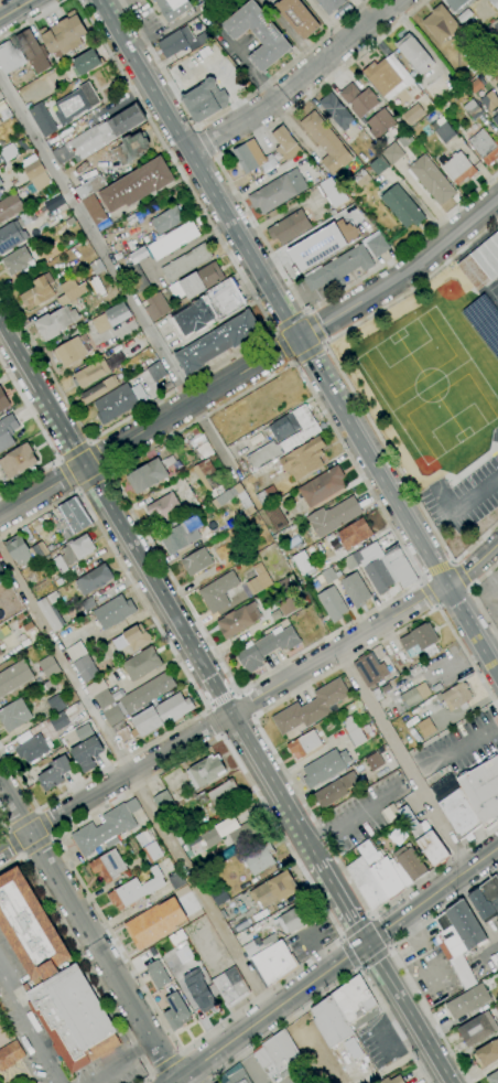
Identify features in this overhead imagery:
building: (494, 2)
building: (331, 4)
building: (208, 6)
building: (457, 7)
road: (13, 8)
building: (173, 8)
building: (297, 17)
road: (31, 19)
building: (440, 23)
building: (492, 30)
building: (64, 34)
building: (258, 34)
building: (203, 36)
building: (463, 39)
building: (176, 42)
building: (33, 51)
building: (204, 53)
building: (414, 53)
building: (10, 57)
building: (86, 62)
building: (390, 78)
road: (296, 82)
building: (476, 85)
building: (205, 100)
building: (359, 100)
building: (76, 103)
building: (489, 103)
road: (224, 109)
building: (473, 109)
building: (336, 110)
building: (4, 111)
building: (413, 112)
building: (495, 118)
building: (43, 120)
building: (126, 120)
building: (380, 122)
building: (443, 130)
building: (405, 139)
building: (88, 141)
road: (206, 142)
building: (326, 142)
building: (285, 143)
building: (484, 146)
building: (131, 148)
building: (8, 151)
building: (392, 153)
building: (249, 157)
building: (441, 158)
building: (379, 165)
building: (459, 168)
building: (33, 169)
building: (431, 179)
building: (1, 182)
building: (137, 184)
building: (89, 185)
building: (0, 187)
building: (0, 190)
building: (278, 191)
building: (333, 192)
building: (54, 203)
building: (10, 206)
building: (402, 206)
building: (95, 208)
building: (31, 216)
building: (167, 219)
road: (253, 224)
building: (290, 227)
building: (12, 235)
building: (174, 240)
building: (322, 244)
building: (377, 246)
road: (230, 257)
building: (18, 260)
building: (186, 262)
building: (481, 262)
building: (97, 267)
building: (338, 269)
road: (119, 276)
building: (136, 278)
building: (198, 281)
building: (74, 289)
building: (39, 291)
building: (156, 307)
building: (208, 309)
building: (111, 318)
road: (289, 321)
building: (56, 322)
road: (314, 328)
road: (296, 334)
building: (218, 342)
road: (282, 347)
building: (73, 351)
road: (308, 354)
road: (253, 364)
road: (45, 365)
building: (156, 371)
building: (91, 373)
park: (434, 376)
road: (348, 386)
building: (98, 389)
building: (3, 400)
building: (119, 401)
road: (29, 411)
building: (195, 430)
building: (7, 431)
building: (285, 436)
building: (197, 440)
road: (88, 443)
road: (90, 443)
building: (206, 450)
road: (75, 451)
road: (99, 459)
building: (304, 459)
building: (18, 460)
road: (61, 460)
road: (58, 462)
traffic signals: (87, 465)
road: (108, 472)
road: (67, 475)
road: (107, 475)
building: (148, 475)
building: (210, 476)
road: (29, 478)
road: (93, 482)
building: (323, 486)
road: (77, 490)
road: (79, 491)
building: (267, 495)
building: (224, 497)
building: (241, 497)
parking lot: (463, 497)
building: (165, 507)
road: (39, 515)
building: (275, 516)
building: (333, 516)
building: (73, 517)
building: (292, 521)
building: (354, 534)
building: (181, 536)
building: (19, 550)
building: (40, 550)
building: (74, 551)
building: (237, 558)
building: (196, 561)
building: (303, 561)
building: (383, 569)
road: (439, 571)
road: (464, 573)
building: (2, 575)
building: (328, 575)
building: (94, 579)
building: (256, 579)
road: (422, 581)
building: (285, 586)
road: (158, 587)
building: (354, 589)
building: (218, 592)
road: (430, 594)
road: (474, 597)
road: (454, 599)
building: (88, 603)
building: (332, 603)
building: (286, 607)
building: (51, 611)
building: (113, 612)
building: (239, 620)
building: (28, 626)
building: (4, 630)
building: (132, 639)
building: (419, 640)
building: (267, 647)
building: (76, 651)
building: (1, 653)
building: (0, 656)
building: (142, 664)
building: (48, 666)
building: (85, 668)
building: (370, 669)
building: (14, 677)
road: (193, 684)
building: (47, 686)
road: (239, 690)
building: (377, 694)
building: (415, 695)
building: (456, 696)
building: (139, 697)
building: (104, 698)
road: (250, 700)
building: (57, 701)
road: (245, 704)
building: (311, 707)
road: (205, 711)
building: (14, 715)
road: (251, 716)
building: (156, 717)
building: (59, 721)
road: (213, 722)
building: (425, 727)
building: (36, 730)
building: (354, 731)
road: (218, 734)
road: (267, 741)
building: (305, 743)
building: (86, 748)
building: (33, 749)
road: (455, 749)
road: (231, 751)
road: (402, 759)
building: (375, 760)
building: (325, 766)
building: (205, 771)
building: (54, 773)
road: (19, 778)
road: (134, 781)
building: (336, 789)
building: (192, 794)
building: (218, 794)
building: (469, 798)
building: (163, 801)
road: (36, 812)
road: (39, 812)
building: (394, 812)
road: (21, 821)
road: (45, 825)
road: (2, 828)
building: (106, 828)
road: (3, 832)
building: (246, 833)
building: (398, 834)
building: (182, 835)
road: (52, 837)
building: (144, 837)
building: (212, 837)
building: (424, 837)
road: (52, 838)
road: (12, 844)
road: (37, 848)
building: (152, 851)
road: (21, 856)
road: (23, 857)
building: (259, 859)
road: (11, 864)
building: (108, 866)
building: (397, 870)
building: (176, 881)
building: (367, 883)
building: (136, 889)
building: (274, 889)
road: (432, 894)
building: (218, 896)
building: (486, 899)
road: (340, 900)
road: (467, 901)
road: (369, 918)
road: (372, 918)
building: (292, 920)
building: (154, 923)
road: (356, 926)
building: (30, 927)
road: (380, 932)
building: (177, 936)
road: (343, 936)
road: (90, 937)
parking lot: (310, 937)
road: (342, 939)
building: (459, 939)
traffic signals: (367, 943)
parking lot: (418, 943)
building: (259, 945)
road: (389, 946)
road: (389, 950)
parking lot: (484, 952)
road: (349, 953)
road: (375, 958)
road: (397, 958)
road: (321, 961)
building: (273, 963)
road: (88, 967)
road: (359, 967)
road: (361, 968)
building: (158, 974)
parking lot: (434, 977)
building: (230, 986)
road: (337, 986)
building: (198, 990)
building: (355, 1000)
building: (468, 1001)
building: (176, 1011)
road: (270, 1011)
road: (408, 1012)
building: (73, 1018)
building: (331, 1021)
road: (30, 1027)
building: (477, 1028)
road: (167, 1030)
parking lot: (378, 1040)
building: (281, 1052)
building: (487, 1053)
building: (10, 1054)
road: (181, 1054)
road: (122, 1062)
building: (266, 1063)
road: (167, 1064)
road: (153, 1074)
building: (238, 1077)
building: (492, 1077)
road: (210, 1080)
building: (392, 1080)
road: (145, 1081)
road: (208, 1082)

